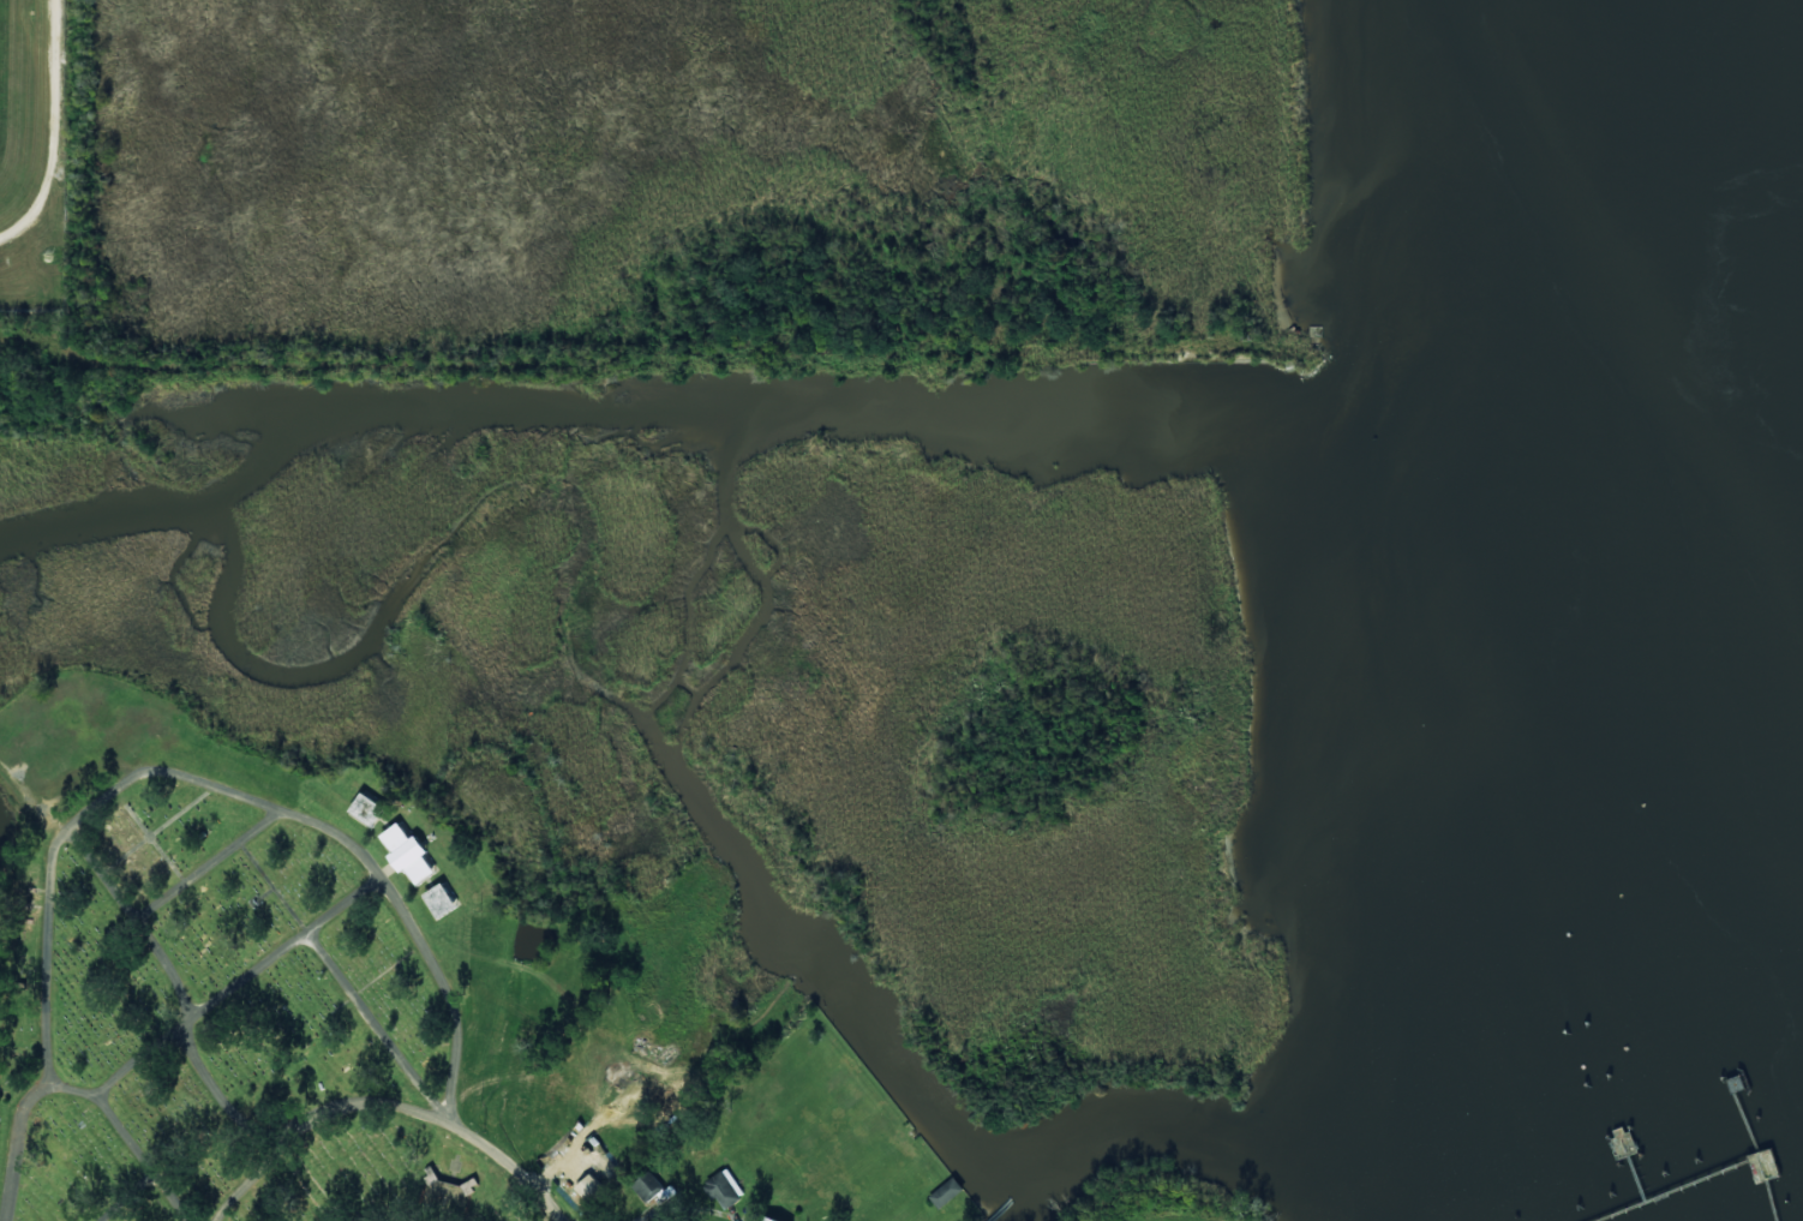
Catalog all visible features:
road: (60, 132)
road: (646, 361)
river: (1738, 445)
road: (162, 772)
building: (366, 809)
building: (407, 854)
road: (210, 868)
road: (144, 930)
road: (360, 996)
park: (256, 1008)
road: (186, 1043)
road: (321, 1119)
road: (148, 1160)
road: (513, 1168)
road: (173, 1169)
building: (588, 1189)
building: (723, 1189)
building: (649, 1192)
building: (945, 1193)
building: (768, 1219)

